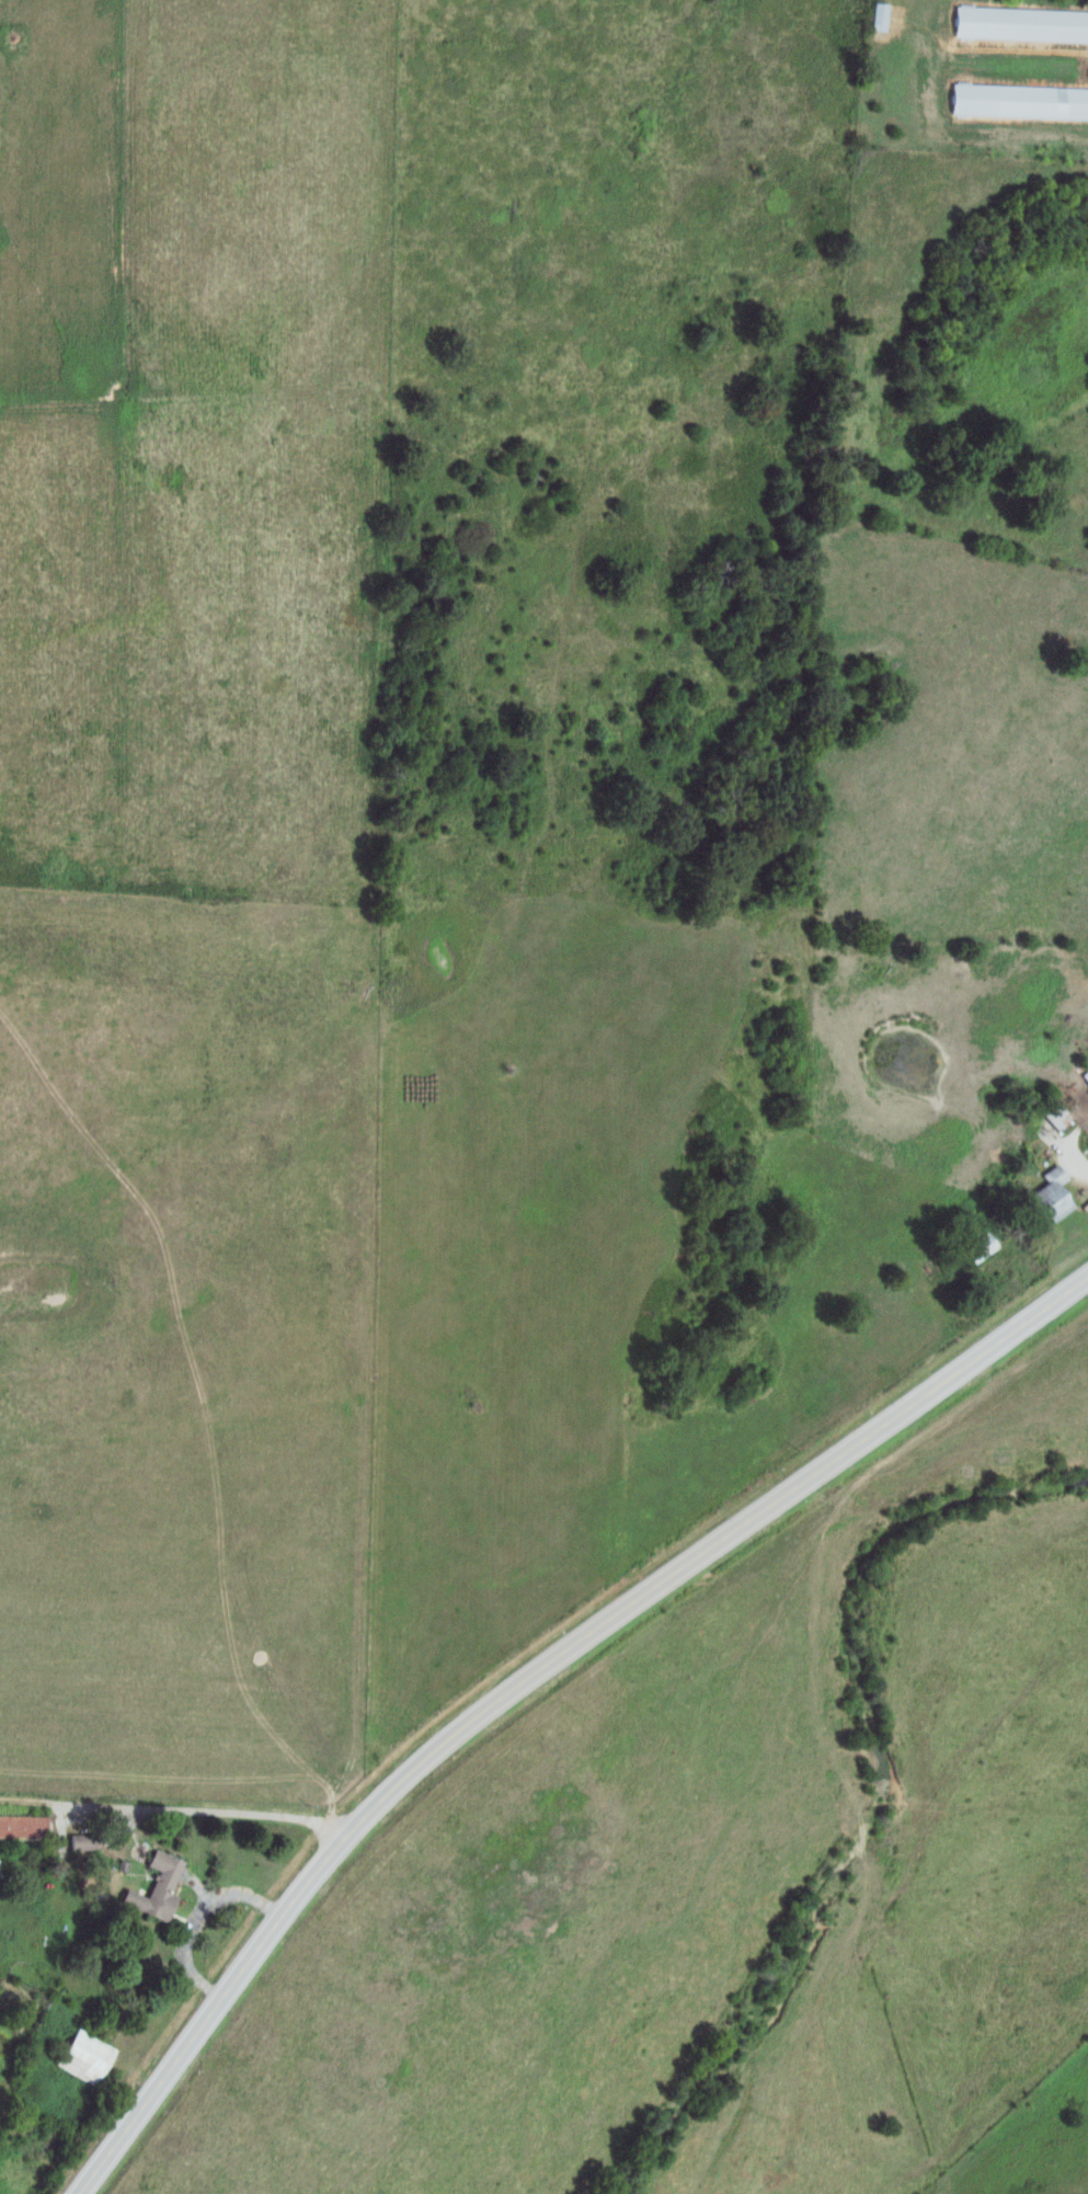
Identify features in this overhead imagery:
building: (877, 14)
building: (1020, 23)
building: (1019, 100)
building: (1055, 1113)
road: (1070, 1149)
building: (1049, 1192)
building: (980, 1245)
road: (526, 1670)
road: (179, 1797)
building: (19, 1825)
building: (78, 1840)
building: (151, 1885)
building: (81, 2054)

